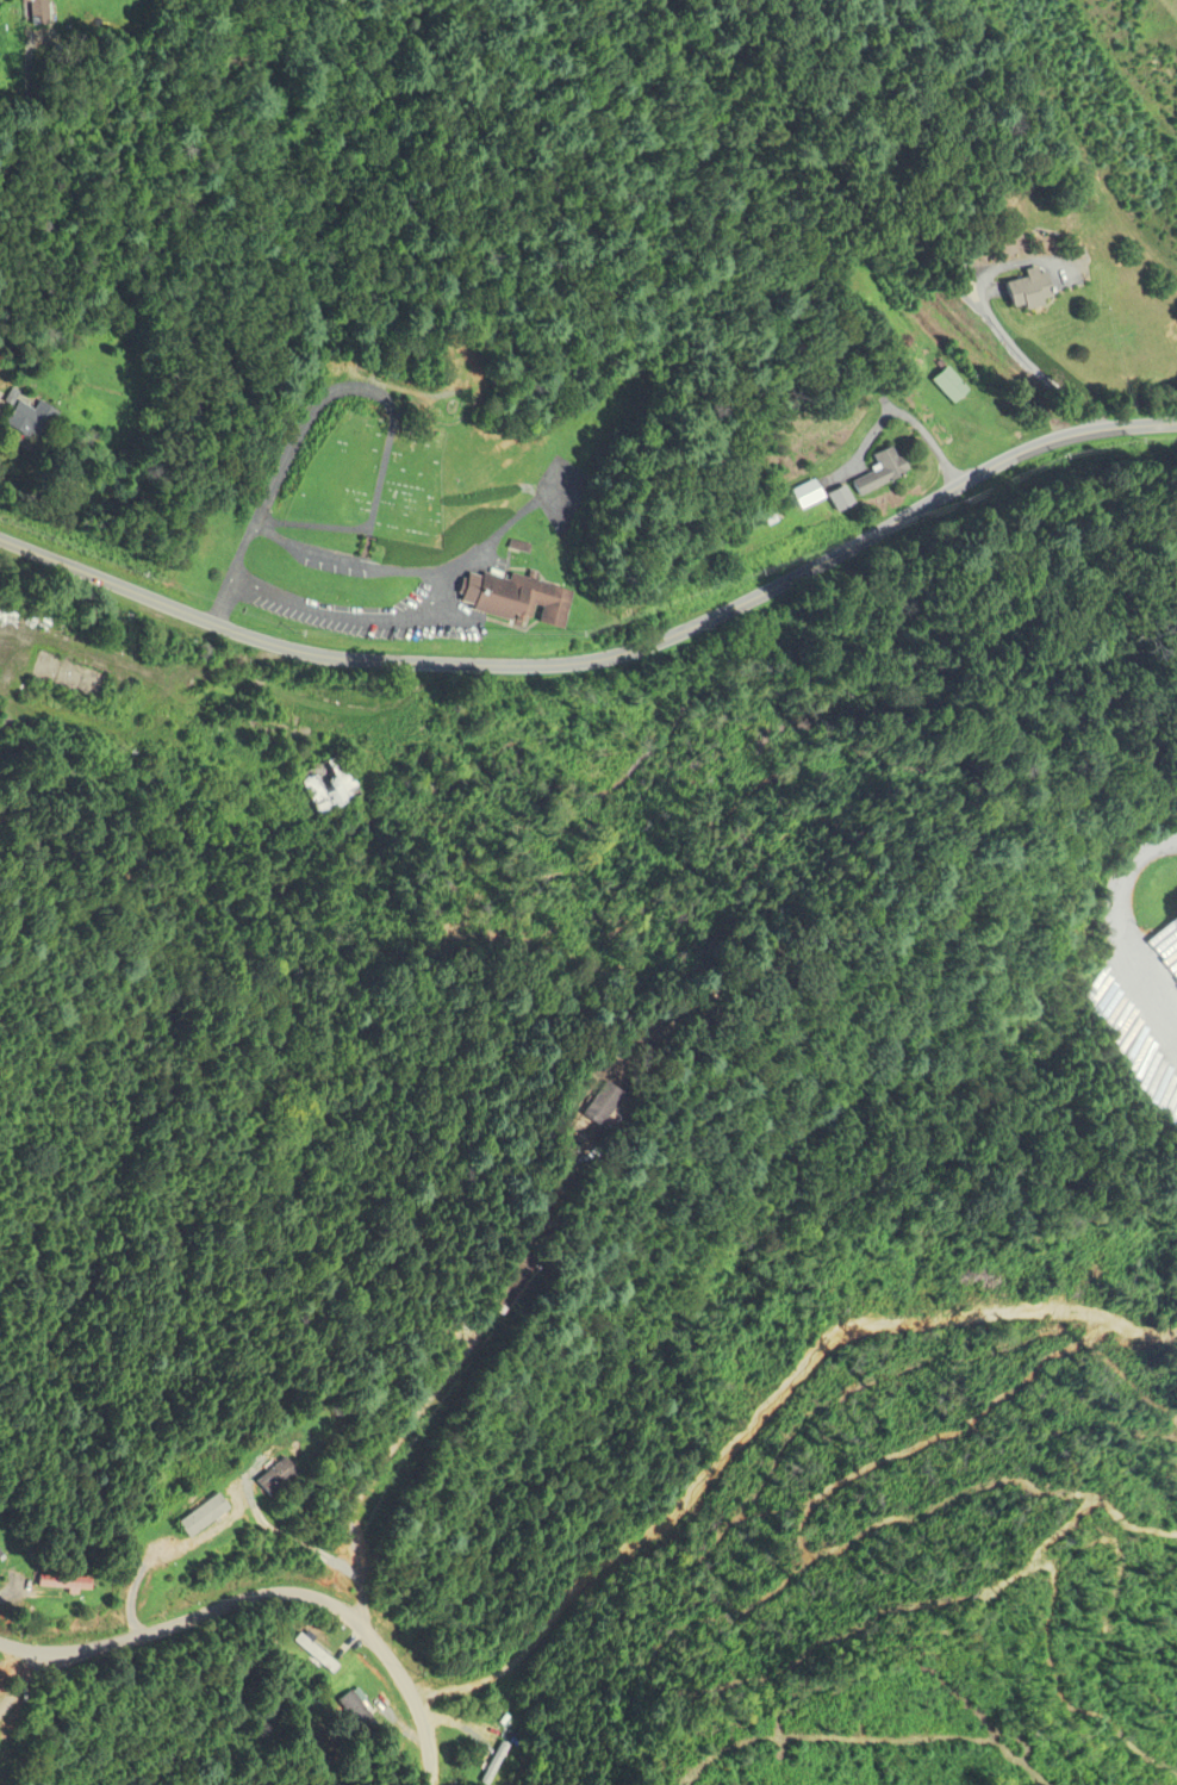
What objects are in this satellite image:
road: (31, 107)
building: (1038, 290)
road: (1030, 363)
building: (0, 380)
building: (951, 386)
road: (353, 393)
road: (899, 415)
building: (43, 421)
park: (374, 472)
building: (888, 472)
road: (62, 475)
building: (118, 483)
building: (814, 495)
road: (500, 534)
building: (523, 597)
road: (453, 611)
parking lot: (376, 614)
road: (604, 660)
building: (335, 786)
road: (1128, 925)
building: (1169, 944)
building: (610, 1105)
road: (448, 1373)
building: (285, 1478)
building: (211, 1517)
building: (2, 1555)
building: (75, 1585)
road: (272, 1596)
building: (326, 1655)
building: (362, 1711)
building: (2, 1777)

